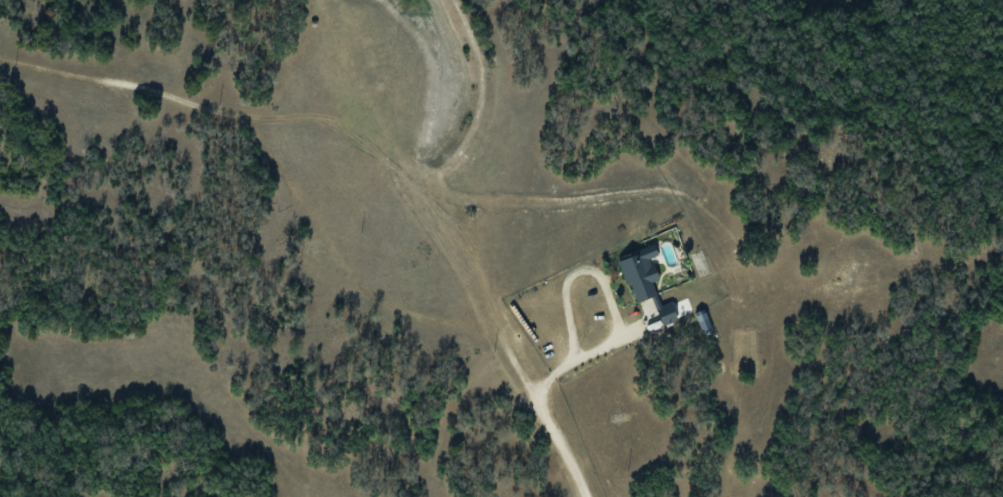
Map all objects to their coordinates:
road: (593, 273)
building: (646, 287)
building: (702, 321)
road: (548, 421)

